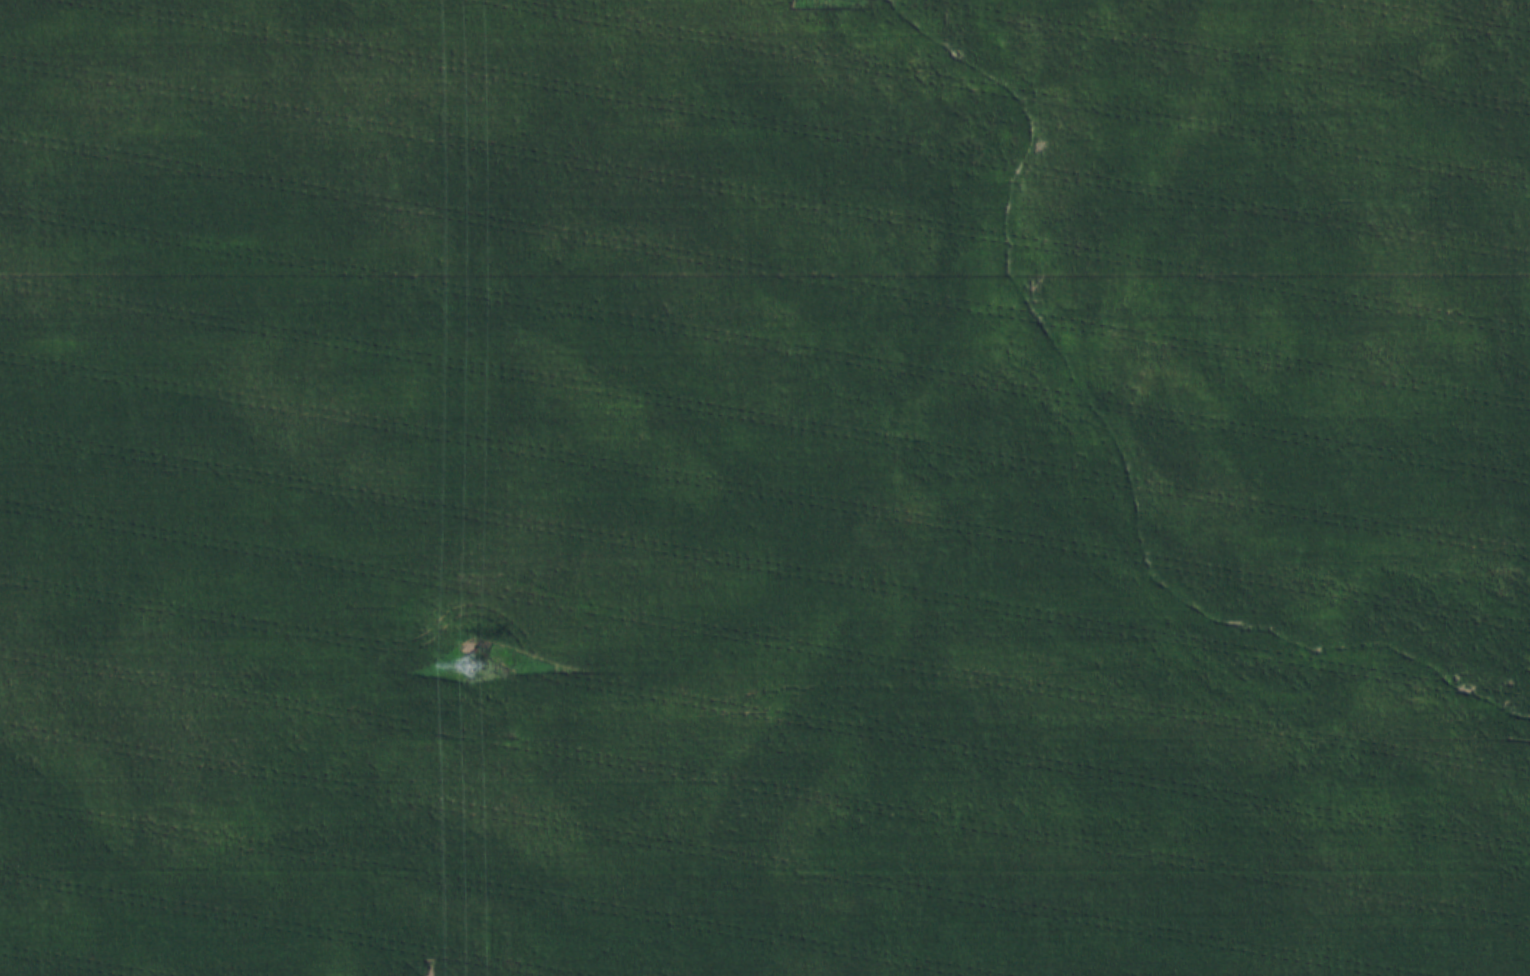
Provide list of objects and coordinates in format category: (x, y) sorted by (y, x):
power tower: (476, 665)

